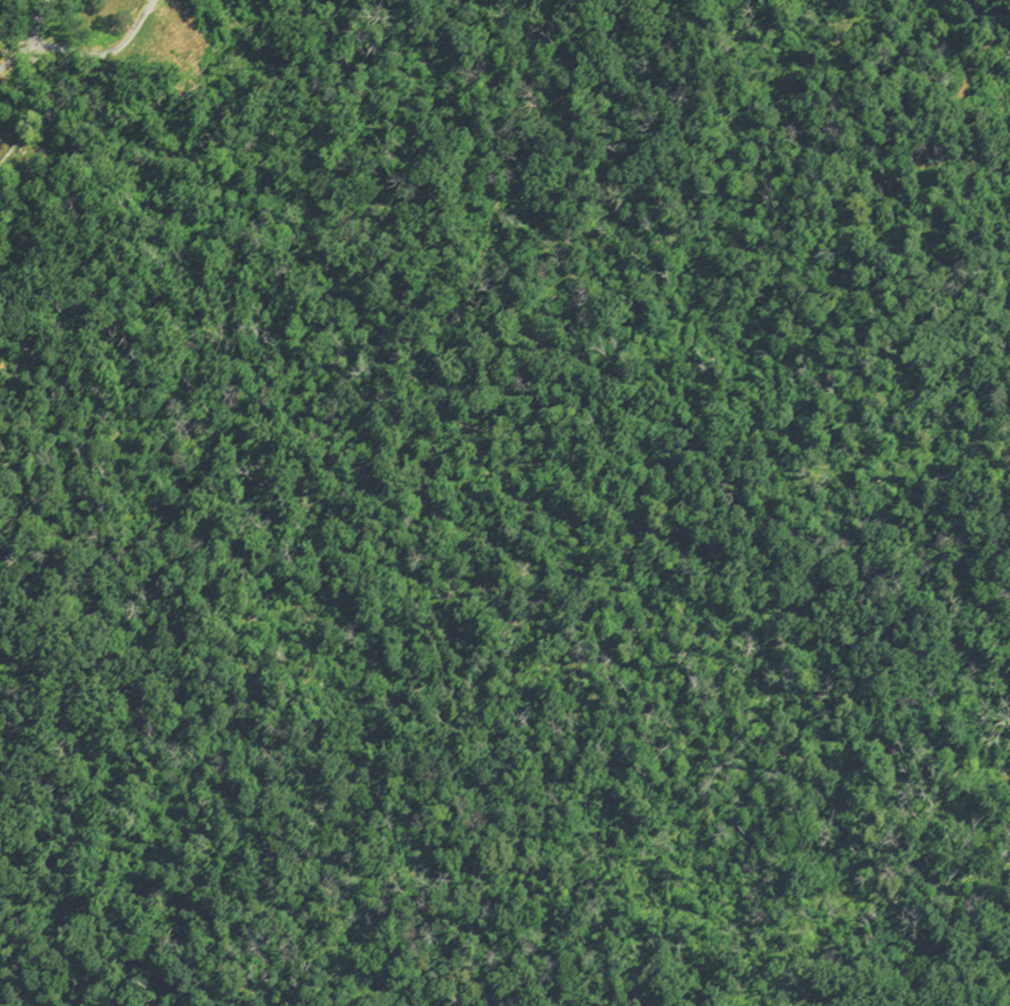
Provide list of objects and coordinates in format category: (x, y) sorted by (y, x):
road: (87, 58)

